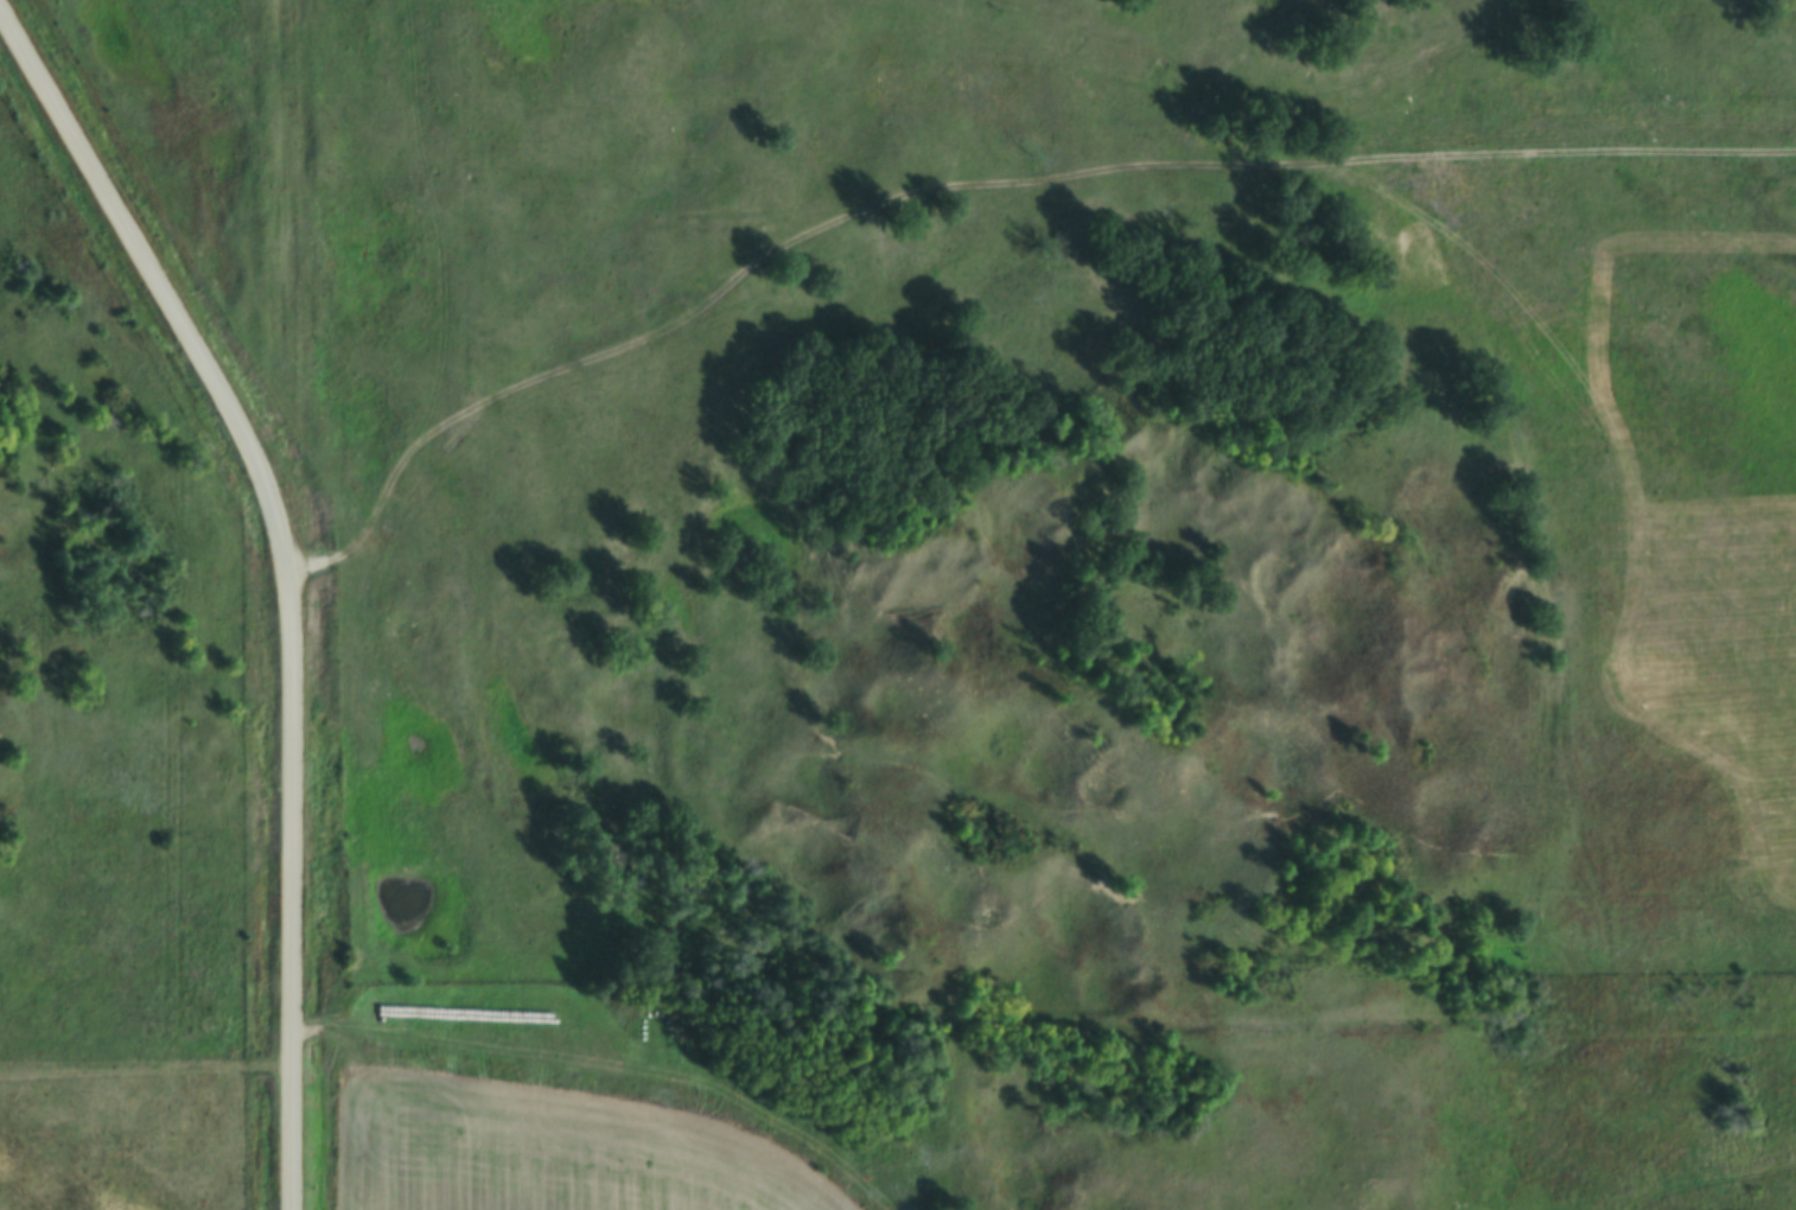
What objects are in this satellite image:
road: (293, 574)

